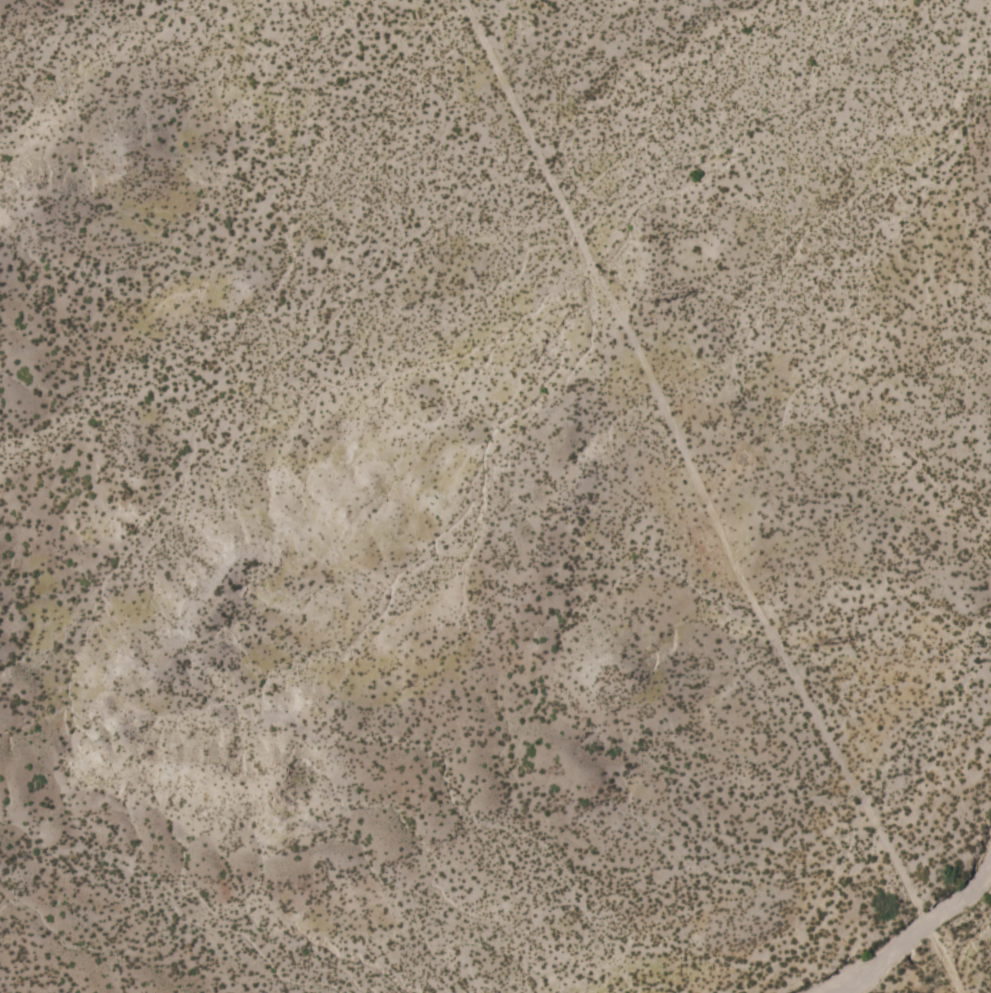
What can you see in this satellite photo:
power tower: (655, 295)
power tower: (818, 637)

